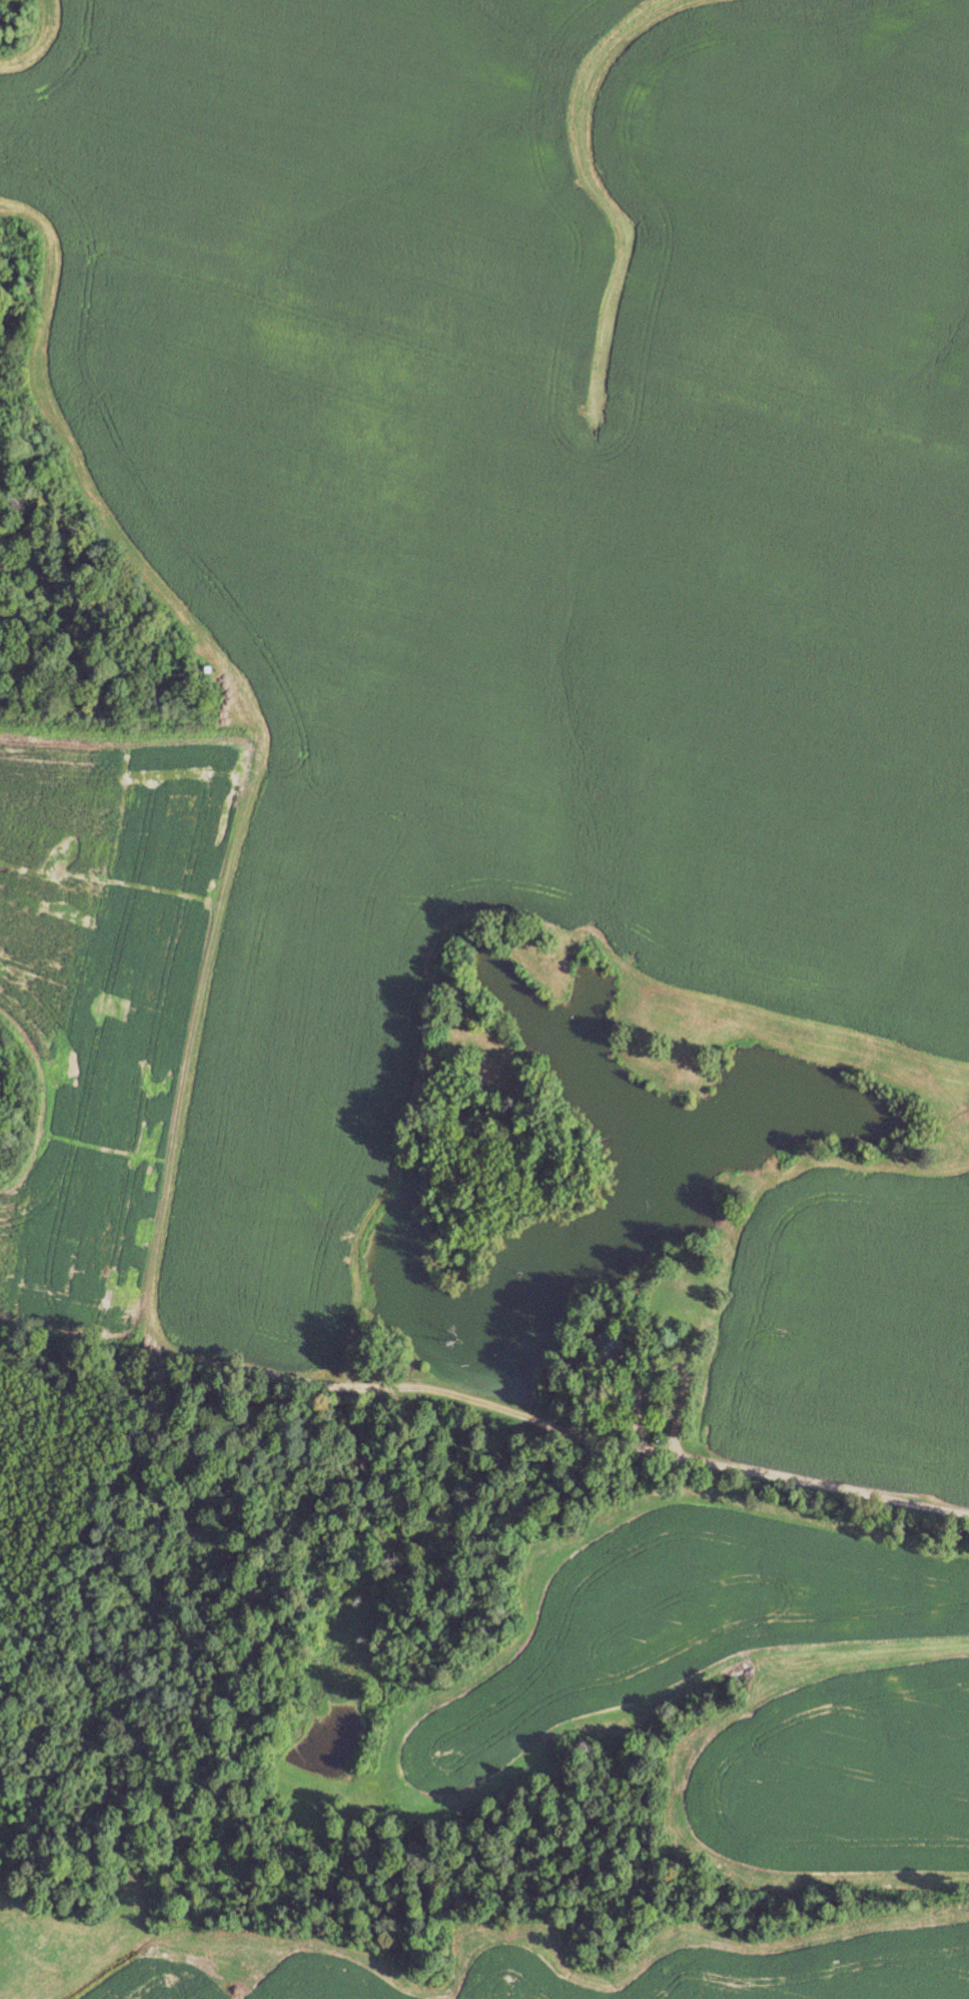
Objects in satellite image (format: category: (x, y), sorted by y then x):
building: (615, 1344)

